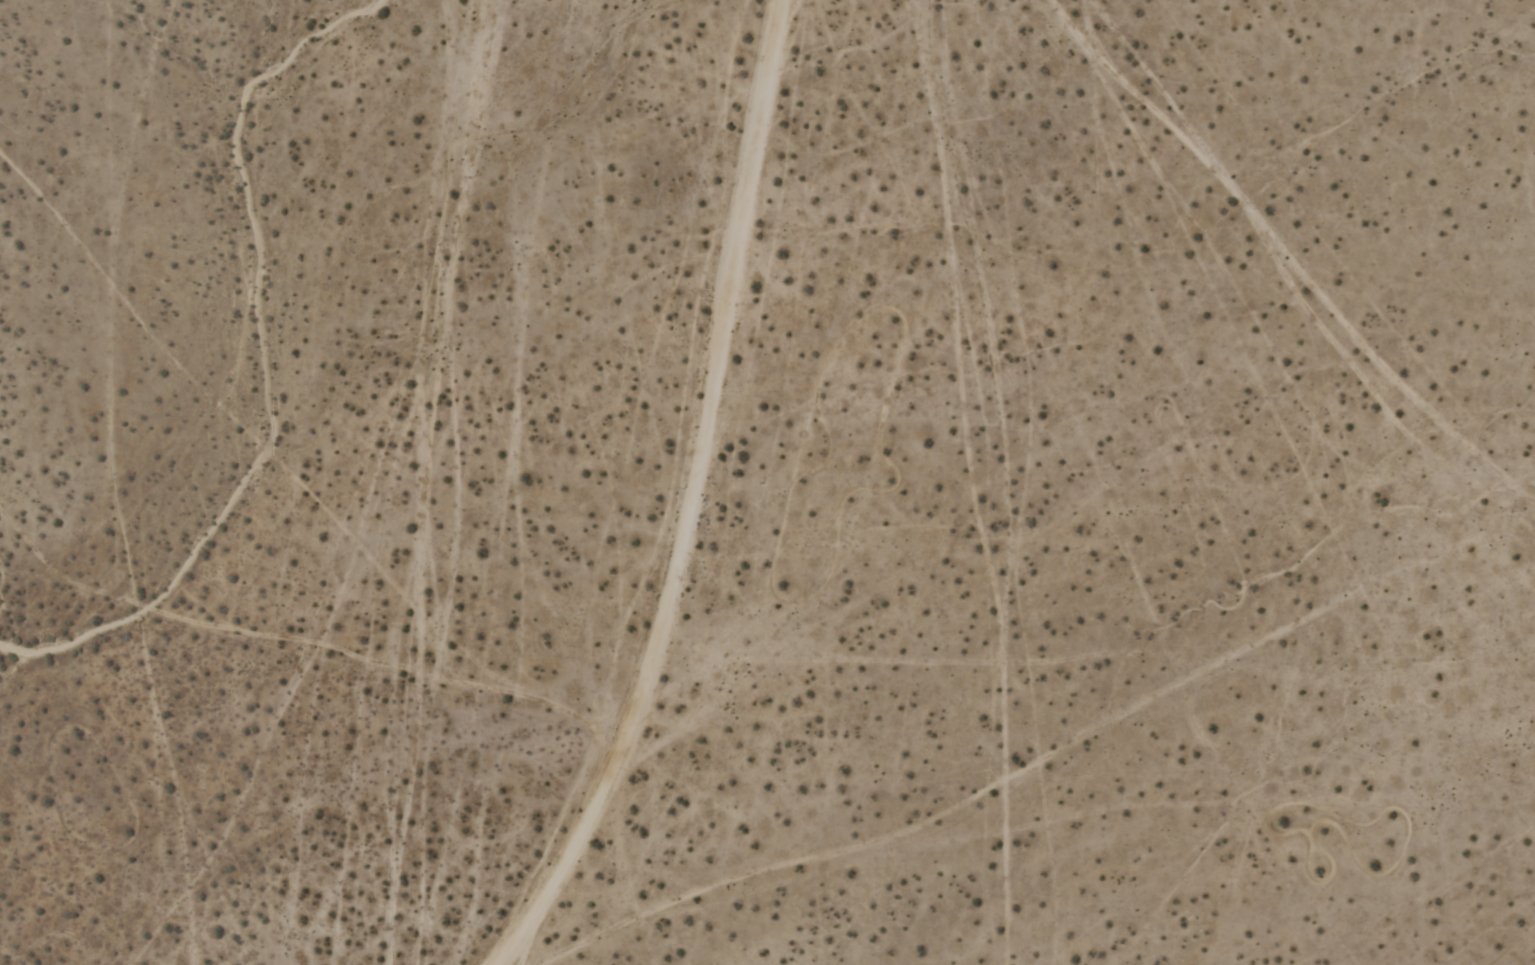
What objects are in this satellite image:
crop: (767, 482)
road: (690, 499)
park: (142, 884)

